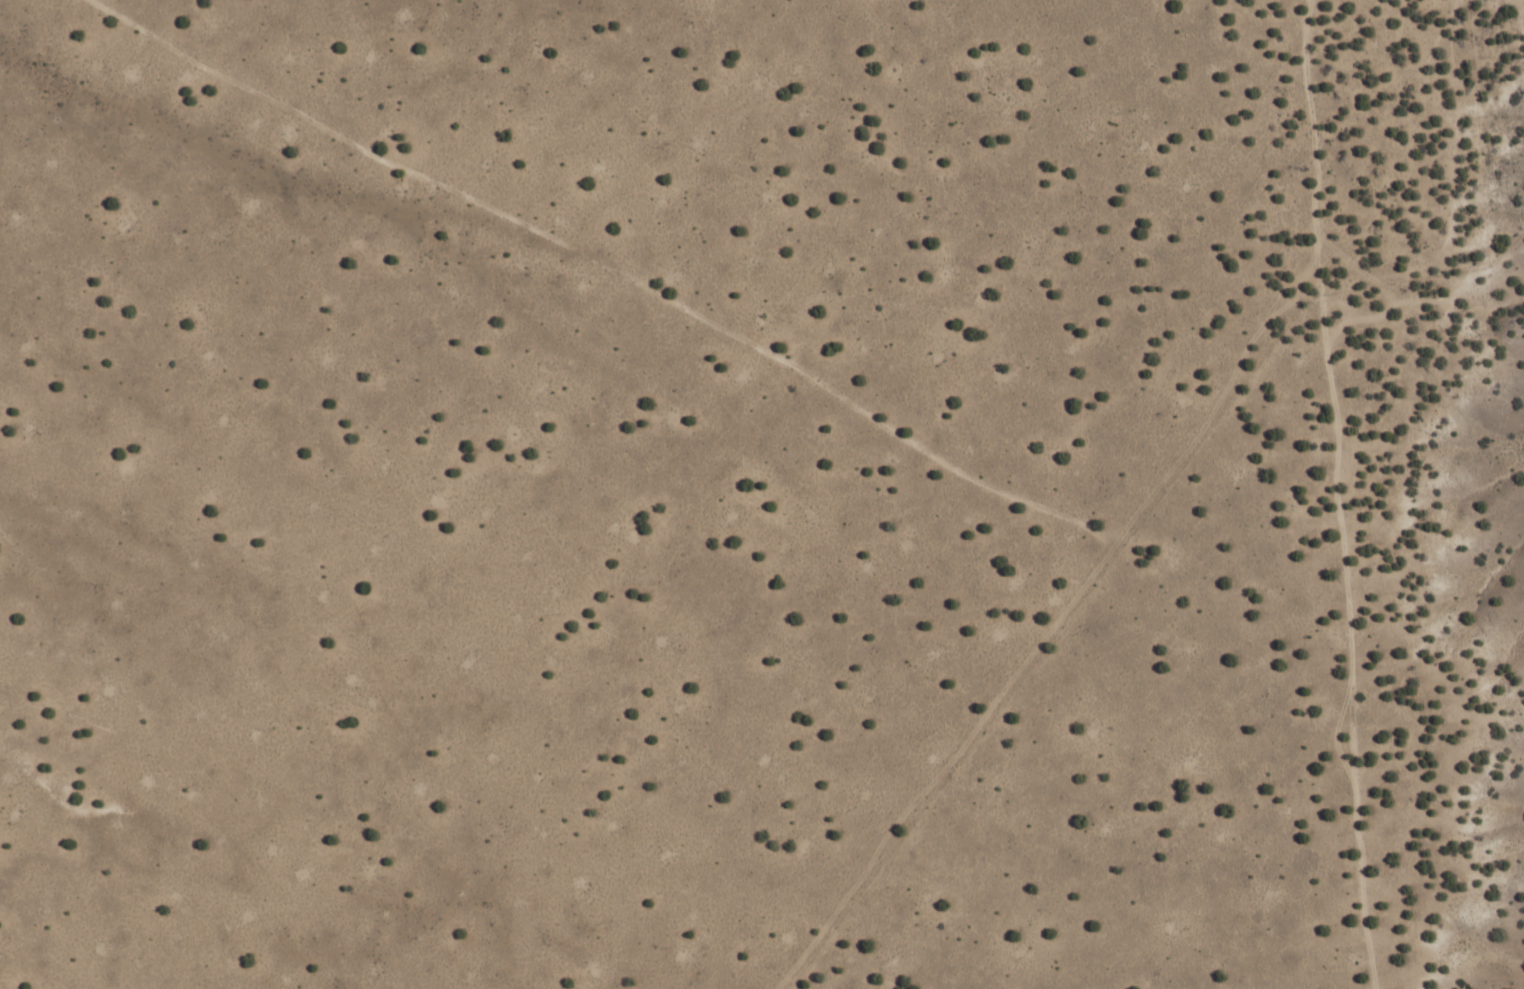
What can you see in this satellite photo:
road: (1305, 494)

